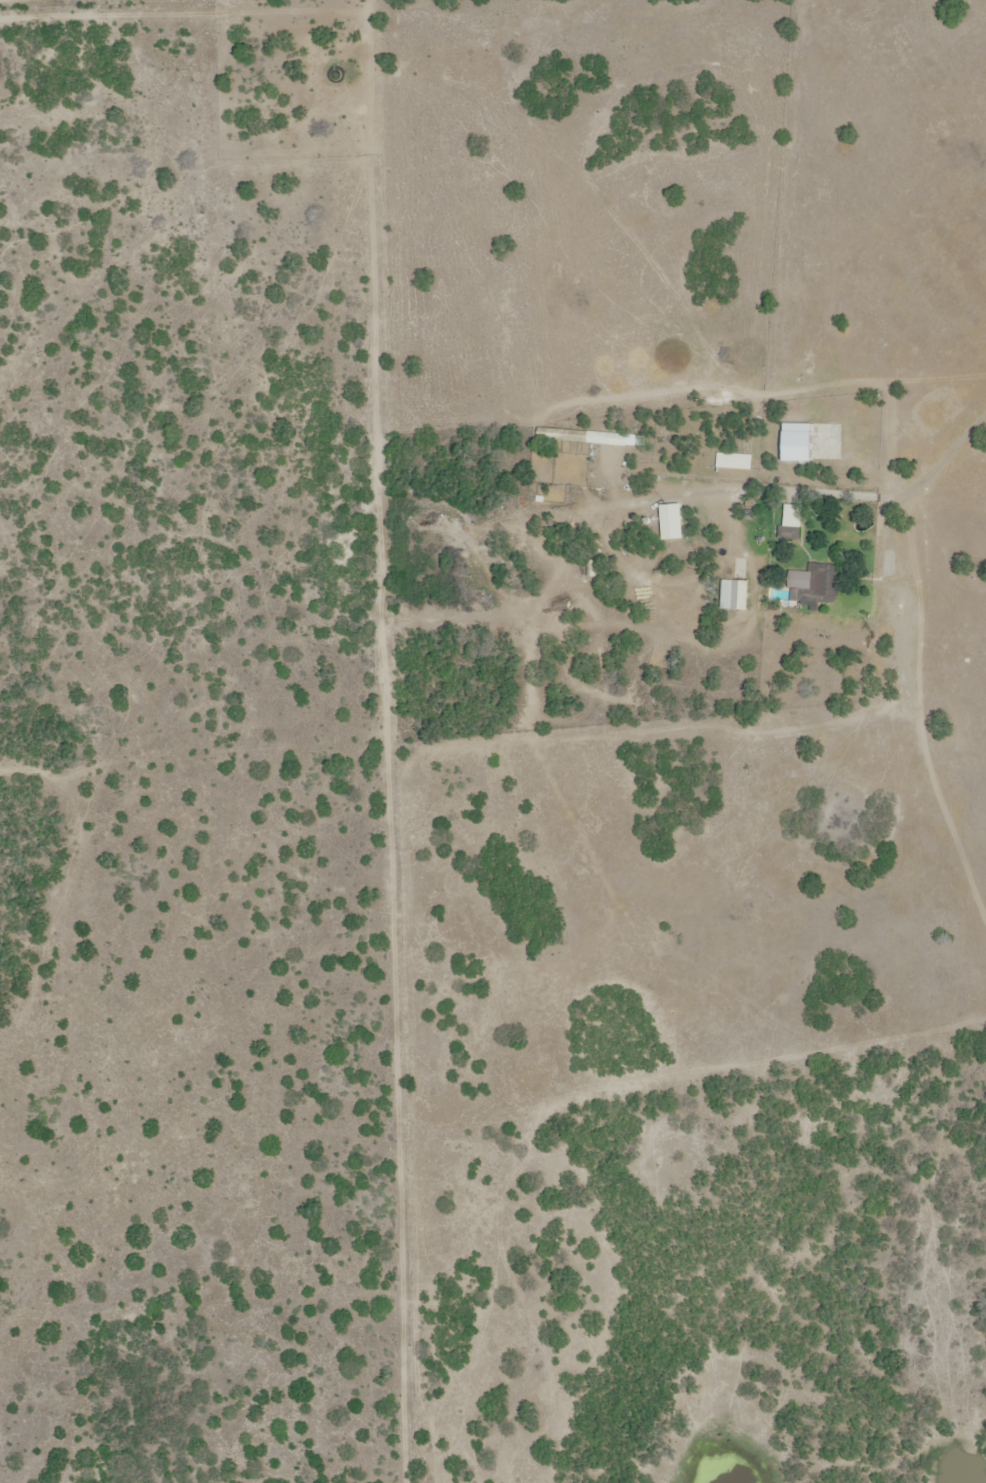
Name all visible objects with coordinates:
building: (583, 436)
building: (827, 440)
road: (858, 466)
building: (790, 531)
building: (821, 584)
building: (736, 596)

